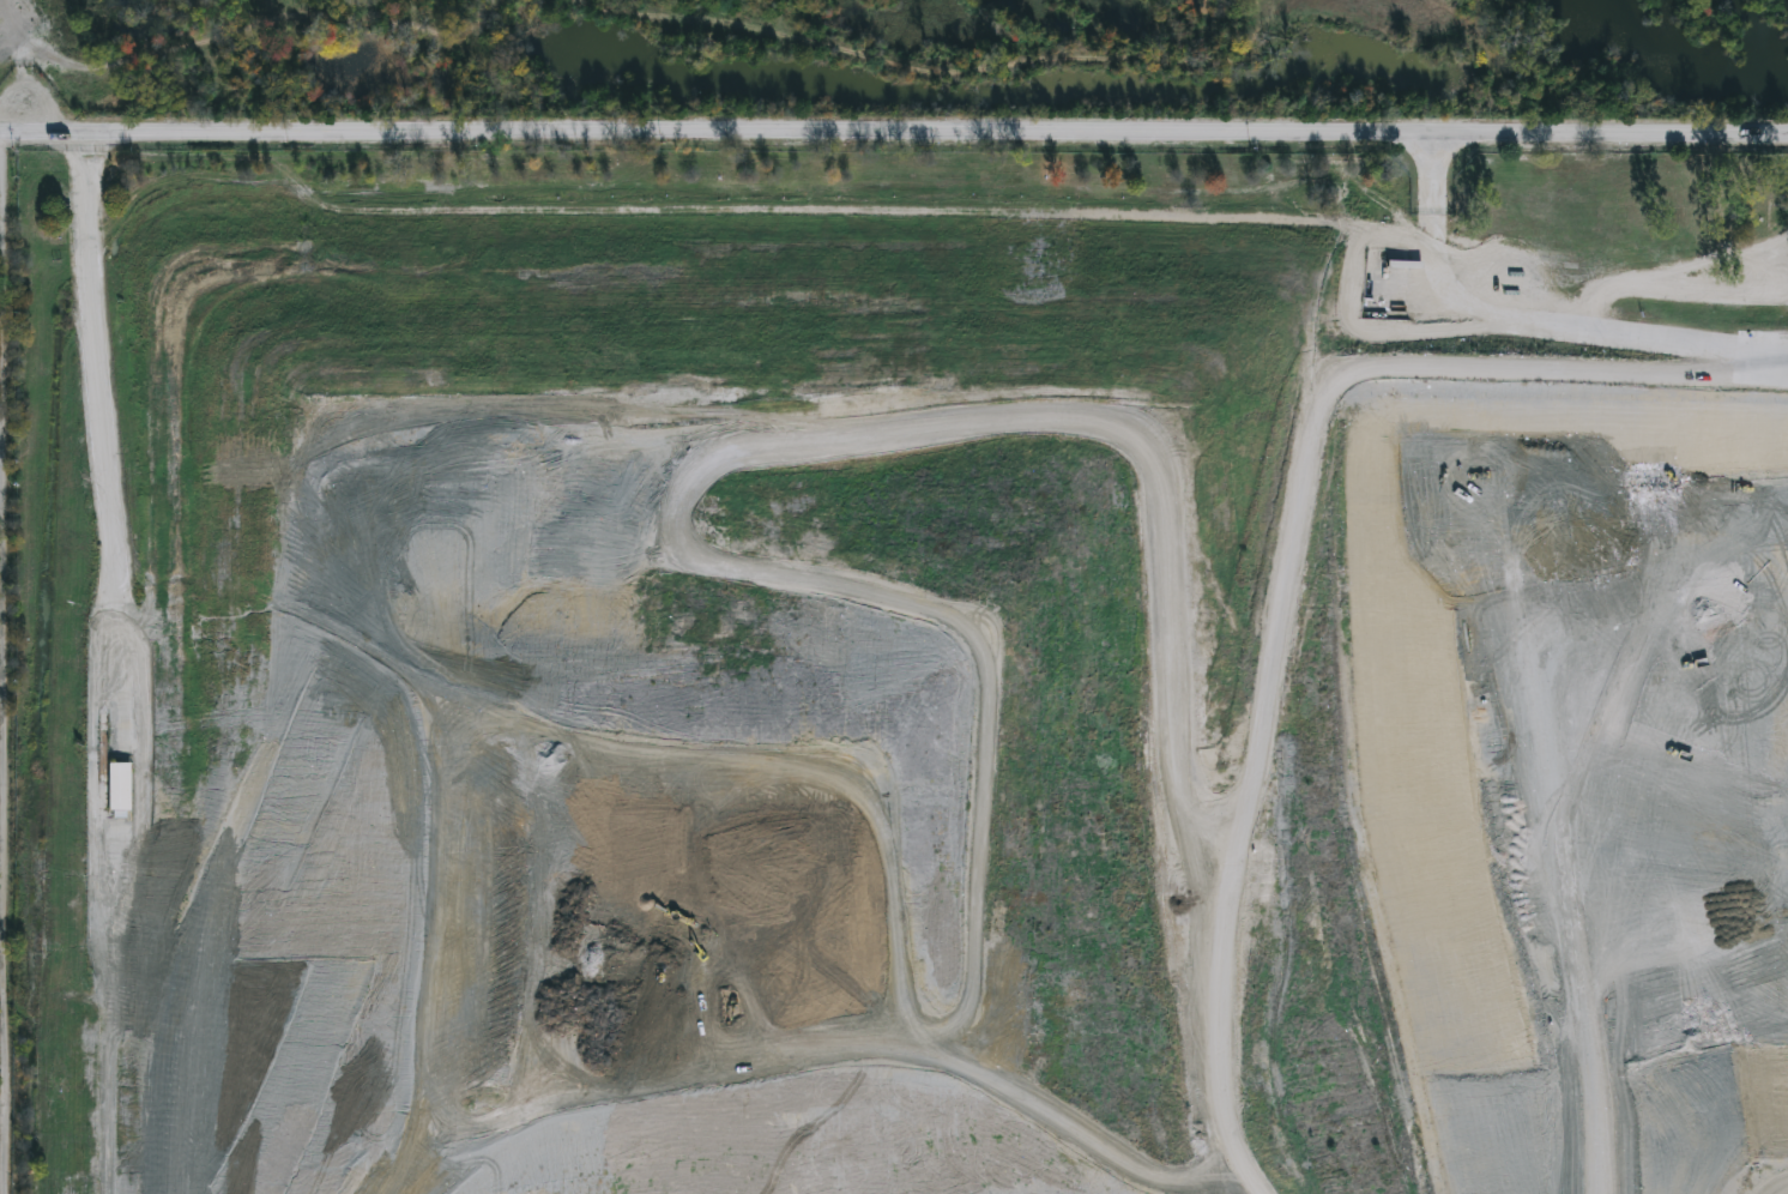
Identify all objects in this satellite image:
building: (267, 2)
building: (1438, 18)
building: (670, 132)
road: (1395, 132)
road: (501, 133)
road: (1536, 326)
road: (6, 663)
road: (125, 664)
landfill: (911, 706)
building: (120, 789)

